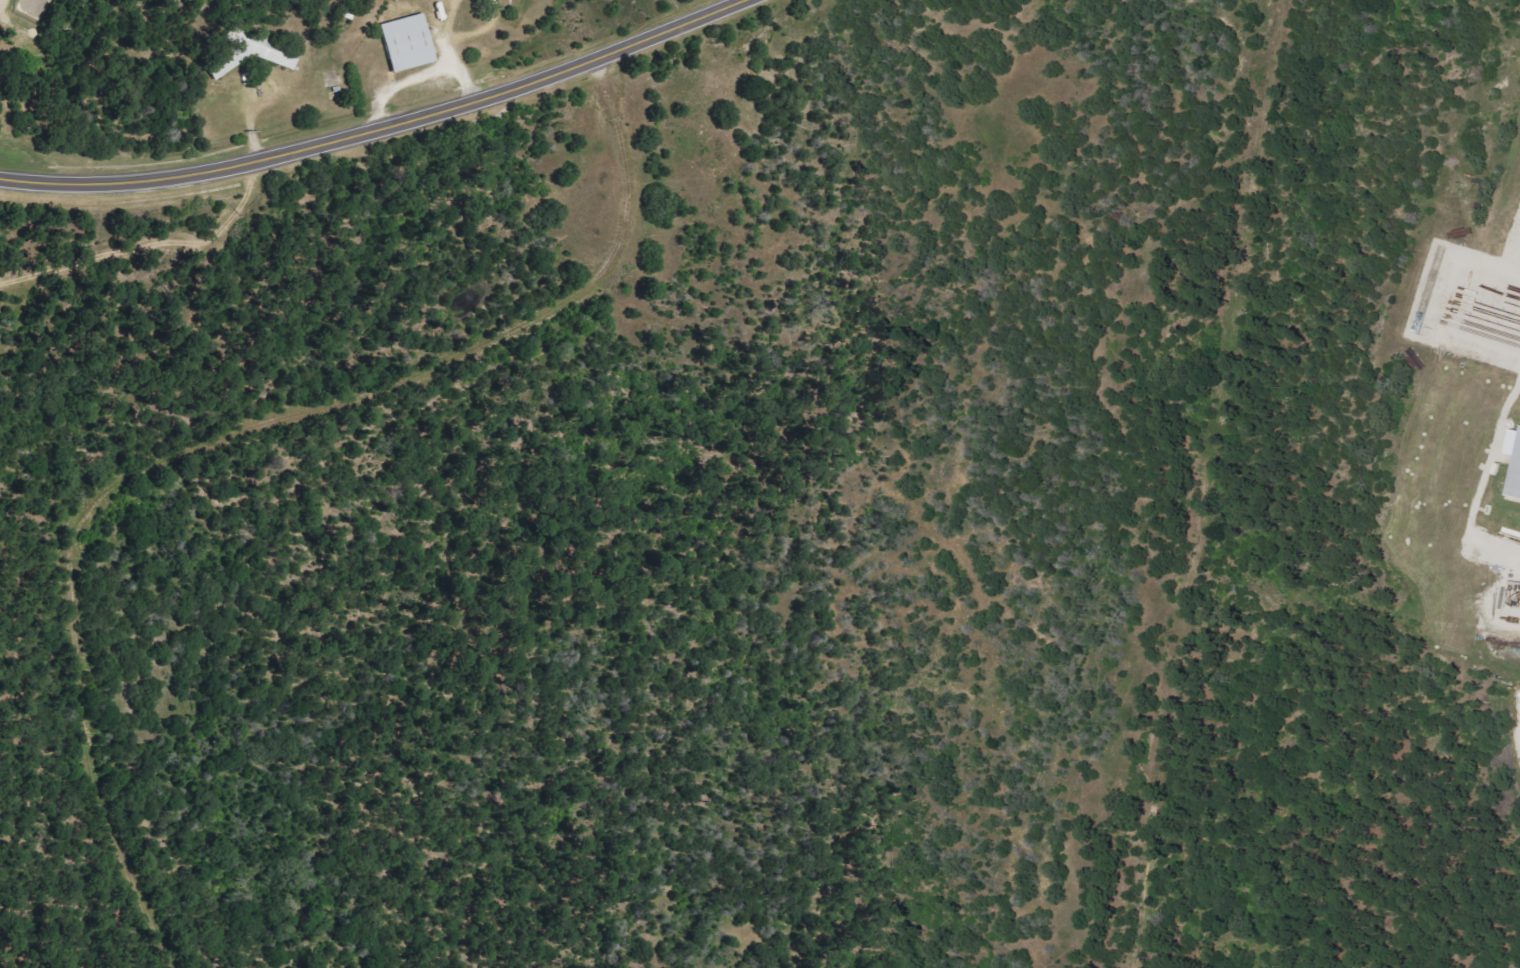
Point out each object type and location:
building: (414, 42)
road: (185, 103)
road: (372, 121)
road: (223, 432)
building: (1517, 476)

